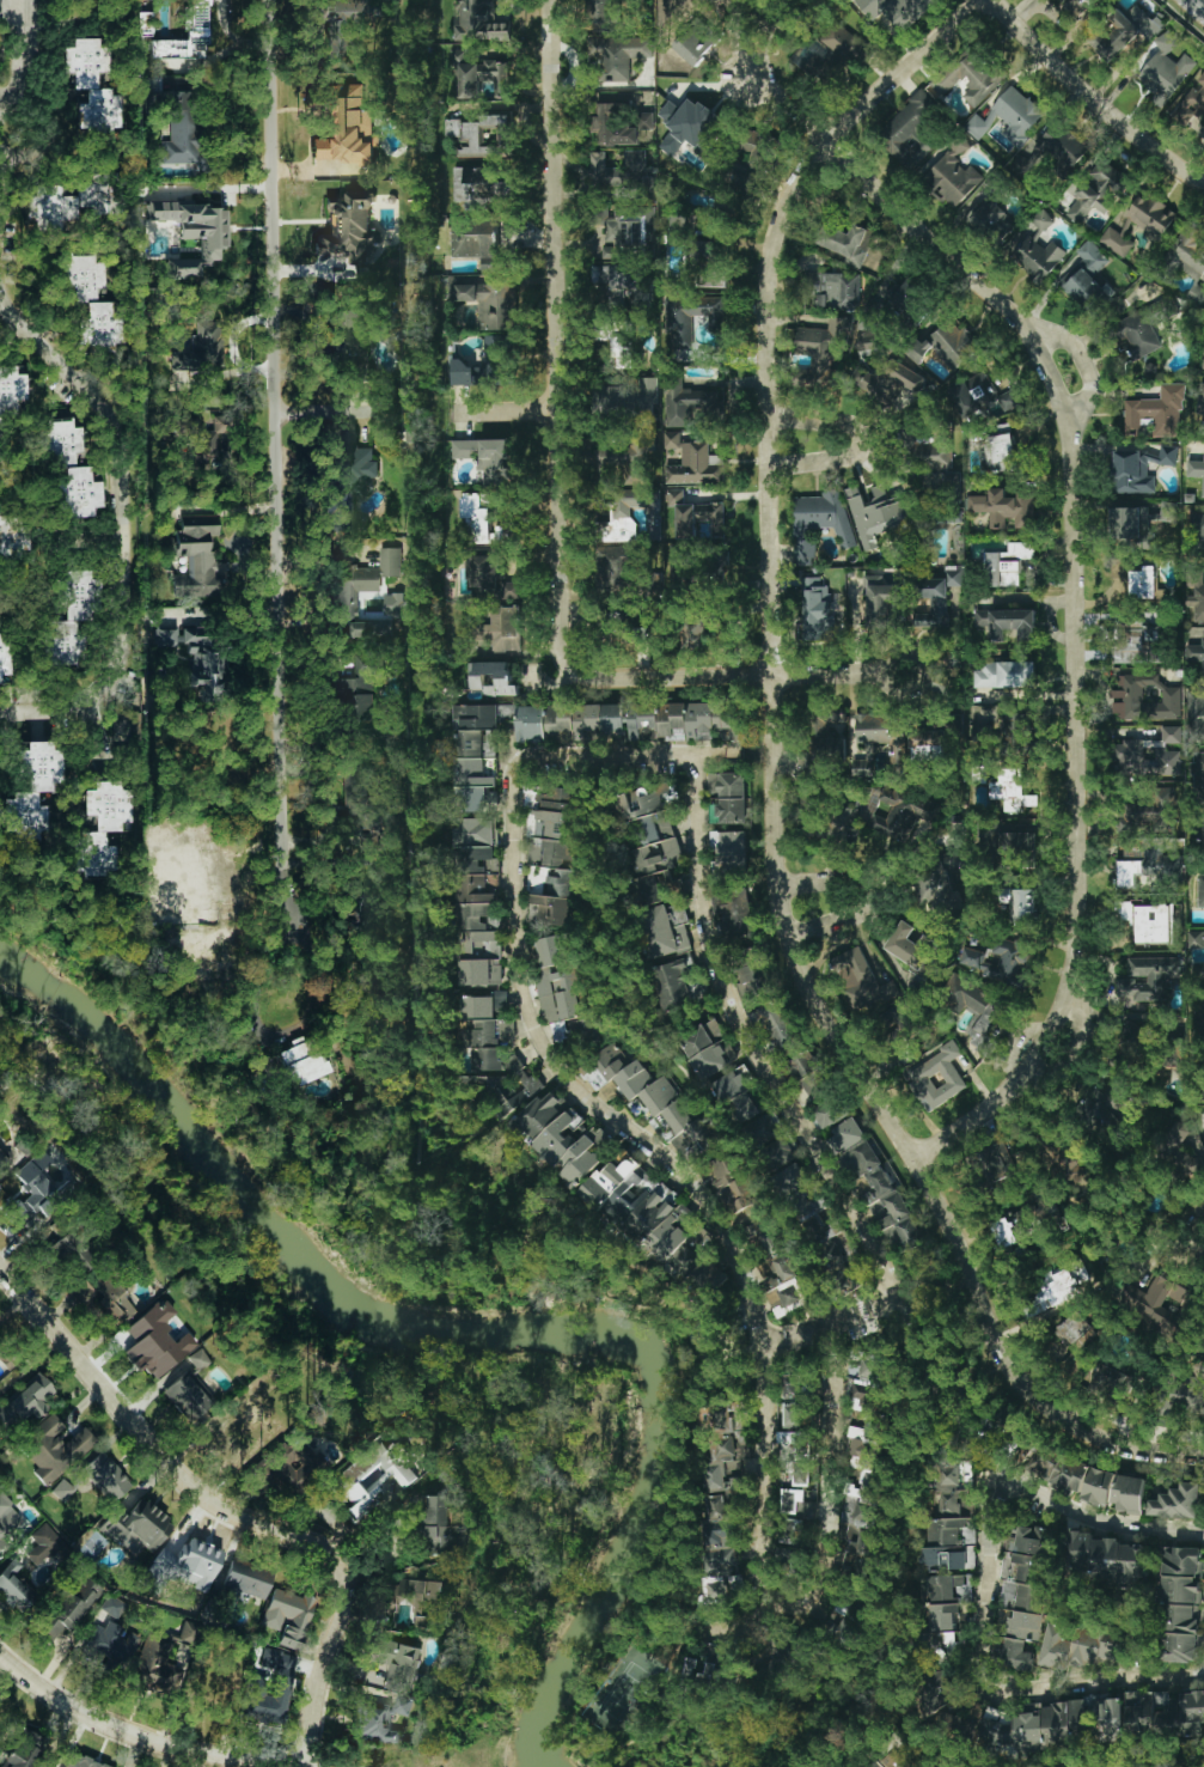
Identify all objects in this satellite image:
road: (13, 6)
building: (604, 16)
building: (197, 19)
building: (482, 20)
building: (145, 22)
building: (349, 22)
building: (1120, 32)
building: (693, 42)
building: (836, 49)
building: (617, 54)
building: (1165, 68)
building: (478, 75)
building: (970, 75)
building: (88, 83)
road: (11, 95)
road: (1094, 98)
building: (1191, 102)
building: (1008, 116)
building: (618, 124)
building: (690, 124)
building: (347, 127)
building: (453, 128)
building: (910, 132)
building: (485, 138)
building: (188, 140)
building: (757, 148)
building: (1058, 148)
building: (623, 175)
building: (953, 176)
building: (1096, 190)
building: (72, 202)
building: (1138, 221)
building: (629, 226)
building: (349, 229)
building: (674, 230)
building: (844, 238)
building: (477, 243)
building: (1038, 249)
building: (1092, 255)
building: (709, 268)
building: (611, 276)
building: (1084, 288)
building: (837, 291)
building: (466, 292)
building: (904, 294)
building: (91, 299)
building: (497, 306)
building: (679, 324)
building: (1147, 325)
building: (354, 334)
road: (555, 339)
building: (619, 345)
building: (946, 346)
building: (198, 349)
building: (820, 353)
road: (59, 355)
building: (483, 365)
building: (1203, 366)
building: (886, 380)
building: (984, 395)
building: (628, 401)
building: (687, 404)
building: (1200, 408)
road: (507, 412)
building: (1157, 412)
road: (322, 414)
road: (861, 441)
building: (203, 447)
building: (1001, 449)
building: (933, 451)
building: (485, 458)
road: (274, 465)
building: (695, 465)
building: (68, 468)
building: (1139, 468)
building: (1196, 471)
building: (353, 480)
building: (1004, 507)
building: (695, 514)
building: (879, 514)
building: (475, 518)
building: (819, 523)
building: (618, 524)
building: (1129, 525)
building: (1196, 531)
road: (85, 540)
building: (1019, 550)
building: (197, 557)
building: (616, 567)
building: (1000, 571)
building: (490, 579)
building: (1141, 583)
road: (1075, 585)
building: (1196, 591)
building: (937, 597)
building: (348, 604)
building: (882, 605)
building: (813, 608)
building: (71, 616)
building: (1007, 622)
building: (500, 628)
building: (697, 632)
building: (1133, 641)
building: (1196, 654)
building: (5, 656)
building: (1004, 674)
road: (765, 676)
building: (491, 677)
building: (360, 695)
building: (1144, 697)
road: (47, 707)
building: (1194, 713)
building: (478, 717)
building: (642, 718)
building: (124, 719)
building: (586, 719)
building: (699, 719)
building: (531, 723)
road: (102, 733)
building: (1171, 735)
building: (875, 739)
building: (489, 743)
building: (927, 744)
building: (471, 758)
building: (1198, 775)
building: (353, 779)
road: (776, 781)
building: (31, 788)
building: (1008, 791)
building: (729, 796)
building: (475, 798)
building: (902, 812)
building: (1147, 812)
building: (842, 822)
building: (98, 823)
building: (1203, 837)
building: (654, 841)
building: (729, 848)
building: (1017, 849)
building: (1142, 863)
building: (176, 879)
building: (562, 882)
building: (935, 888)
building: (1200, 891)
road: (875, 894)
building: (478, 903)
building: (355, 904)
building: (1019, 904)
building: (549, 909)
building: (733, 909)
building: (1148, 920)
building: (667, 930)
building: (1196, 939)
building: (209, 950)
building: (913, 950)
building: (1004, 962)
building: (753, 979)
building: (860, 980)
building: (1147, 980)
building: (676, 981)
road: (261, 983)
building: (557, 986)
building: (978, 1014)
building: (780, 1025)
building: (1131, 1041)
road: (1078, 1043)
building: (707, 1048)
building: (495, 1055)
building: (299, 1060)
building: (947, 1070)
building: (735, 1096)
building: (656, 1101)
building: (1105, 1105)
building: (831, 1113)
building: (763, 1129)
building: (560, 1138)
building: (1059, 1158)
building: (2, 1160)
building: (35, 1172)
building: (879, 1189)
road: (699, 1192)
building: (742, 1195)
building: (644, 1212)
building: (1025, 1219)
road: (861, 1220)
building: (819, 1226)
road: (927, 1272)
building: (1059, 1286)
building: (81, 1291)
building: (788, 1291)
building: (112, 1298)
road: (935, 1298)
building: (1160, 1305)
road: (829, 1320)
road: (61, 1330)
river: (466, 1330)
building: (1071, 1335)
building: (154, 1340)
building: (198, 1359)
building: (1107, 1383)
building: (793, 1387)
building: (863, 1387)
building: (1192, 1388)
building: (187, 1399)
building: (24, 1402)
building: (794, 1415)
building: (54, 1446)
building: (727, 1450)
building: (793, 1457)
building: (1039, 1461)
building: (287, 1462)
building: (864, 1470)
building: (375, 1475)
building: (1069, 1475)
building: (105, 1476)
building: (66, 1486)
building: (1098, 1487)
building: (1130, 1494)
building: (1175, 1503)
building: (794, 1509)
building: (8, 1519)
building: (953, 1521)
building: (436, 1523)
building: (137, 1527)
building: (720, 1535)
road: (314, 1541)
building: (43, 1544)
building: (857, 1549)
building: (1112, 1558)
building: (790, 1564)
building: (183, 1566)
building: (246, 1580)
building: (17, 1586)
building: (948, 1586)
building: (713, 1591)
building: (430, 1598)
building: (74, 1602)
building: (1180, 1603)
building: (112, 1605)
building: (287, 1615)
building: (945, 1616)
road: (752, 1622)
building: (940, 1644)
building: (109, 1646)
building: (1056, 1647)
building: (781, 1651)
building: (1016, 1655)
building: (702, 1663)
building: (392, 1665)
building: (268, 1686)
road: (986, 1688)
building: (934, 1690)
building: (1090, 1705)
building: (1148, 1710)
building: (1192, 1712)
building: (379, 1718)
building: (1111, 1719)
building: (1032, 1725)
road: (145, 1734)
building: (23, 1749)
building: (81, 1761)
building: (878, 1765)

